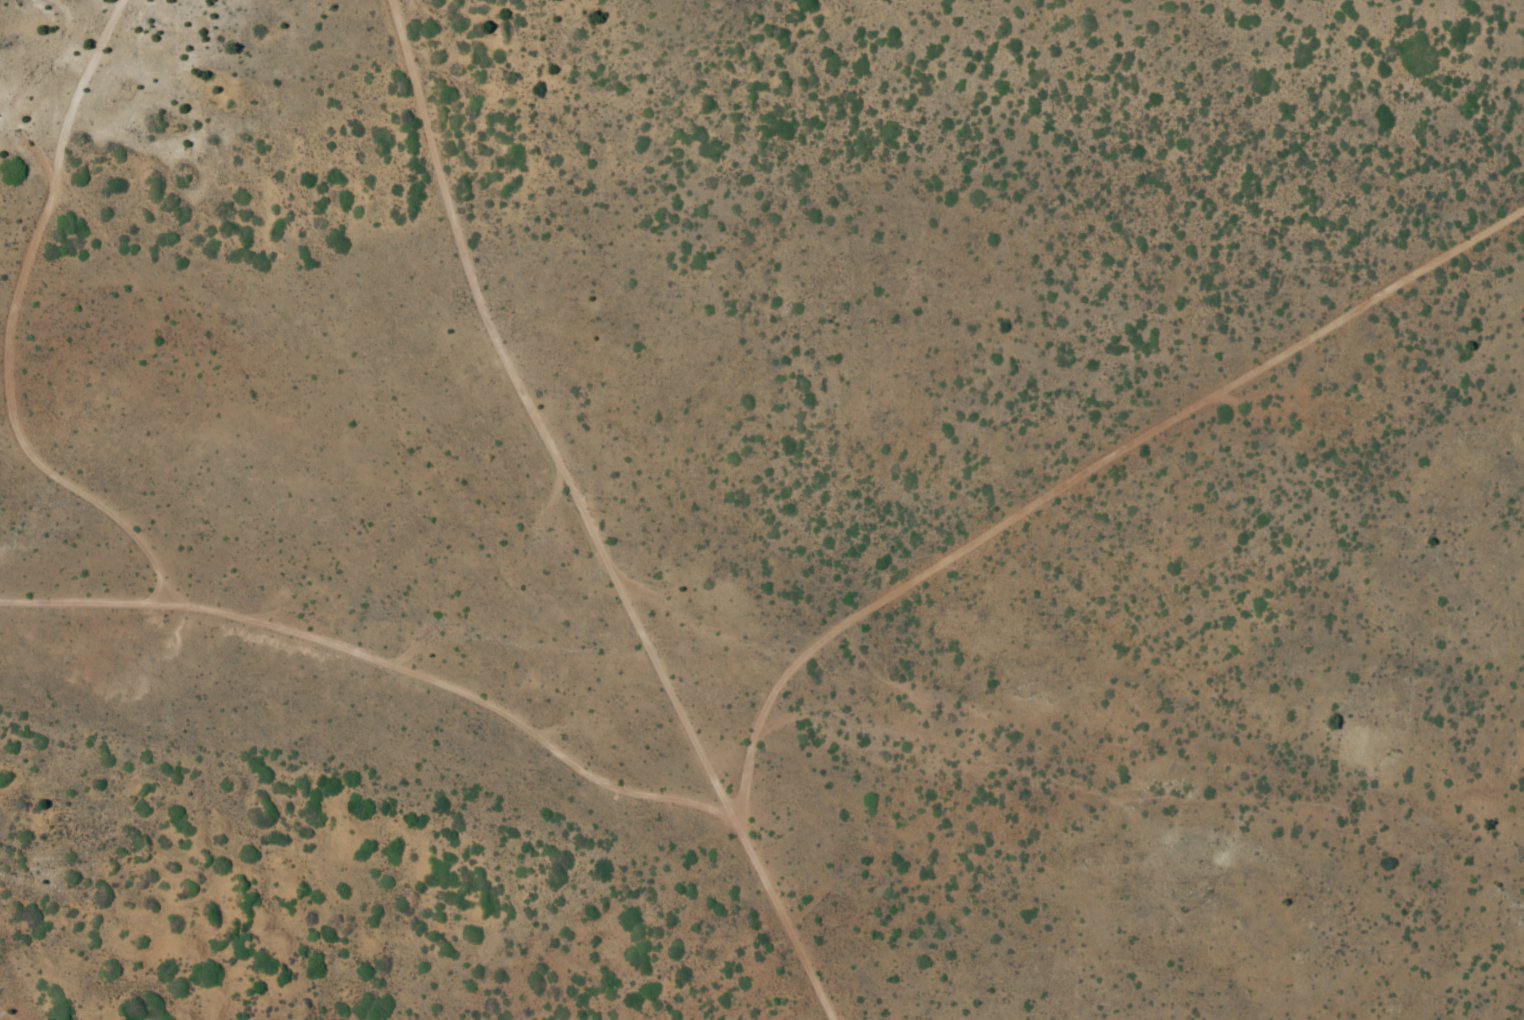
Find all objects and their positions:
road: (547, 409)
road: (987, 521)
road: (156, 580)

